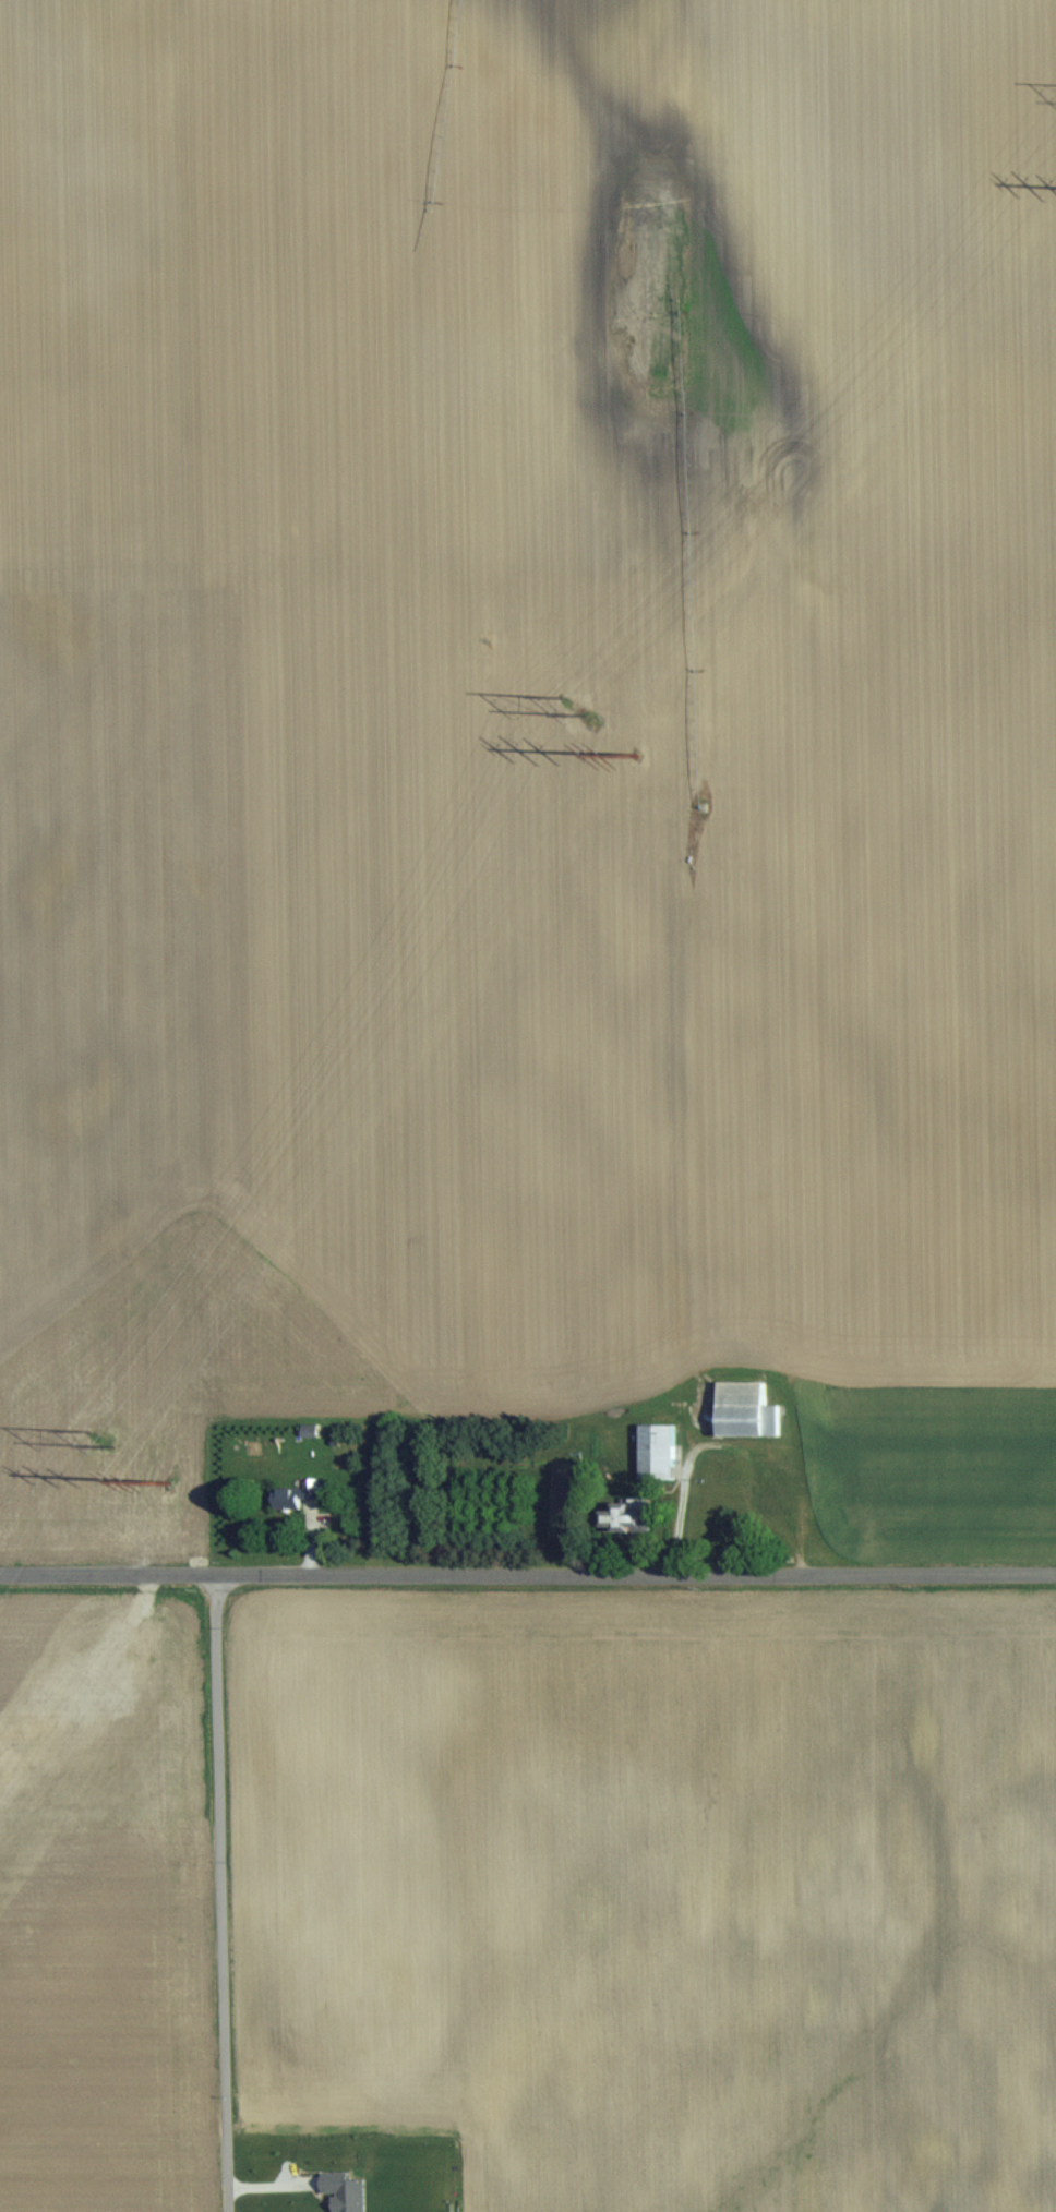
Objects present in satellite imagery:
power tower: (568, 704)
power tower: (633, 750)
building: (744, 1409)
power tower: (99, 1434)
building: (656, 1451)
building: (825, 1453)
power tower: (168, 1480)
building: (782, 1482)
building: (292, 1494)
building: (623, 1515)
road: (527, 1573)
road: (220, 1891)

